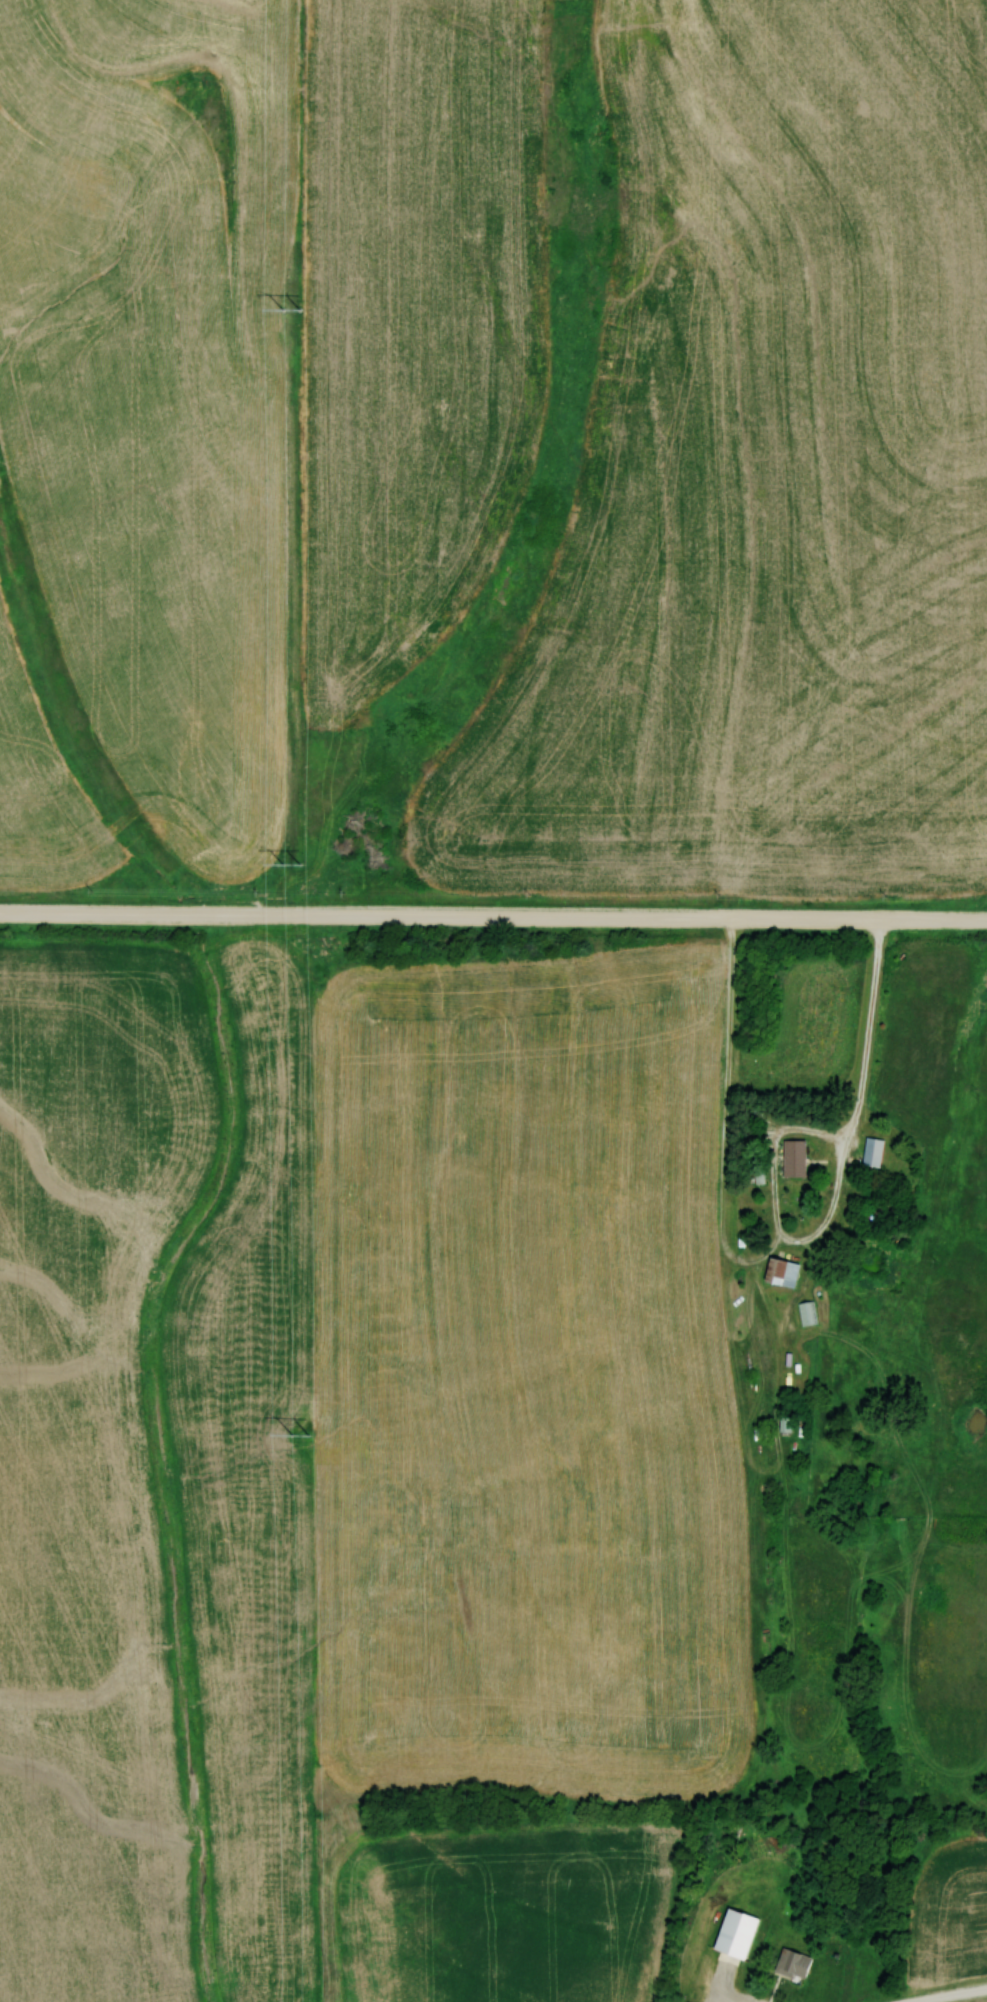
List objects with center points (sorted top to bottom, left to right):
power tower: (288, 313)
power tower: (285, 866)
road: (493, 917)
building: (878, 1151)
building: (799, 1158)
building: (787, 1270)
building: (809, 1312)
power tower: (295, 1436)
building: (742, 1934)
building: (799, 1963)
road: (942, 1995)

